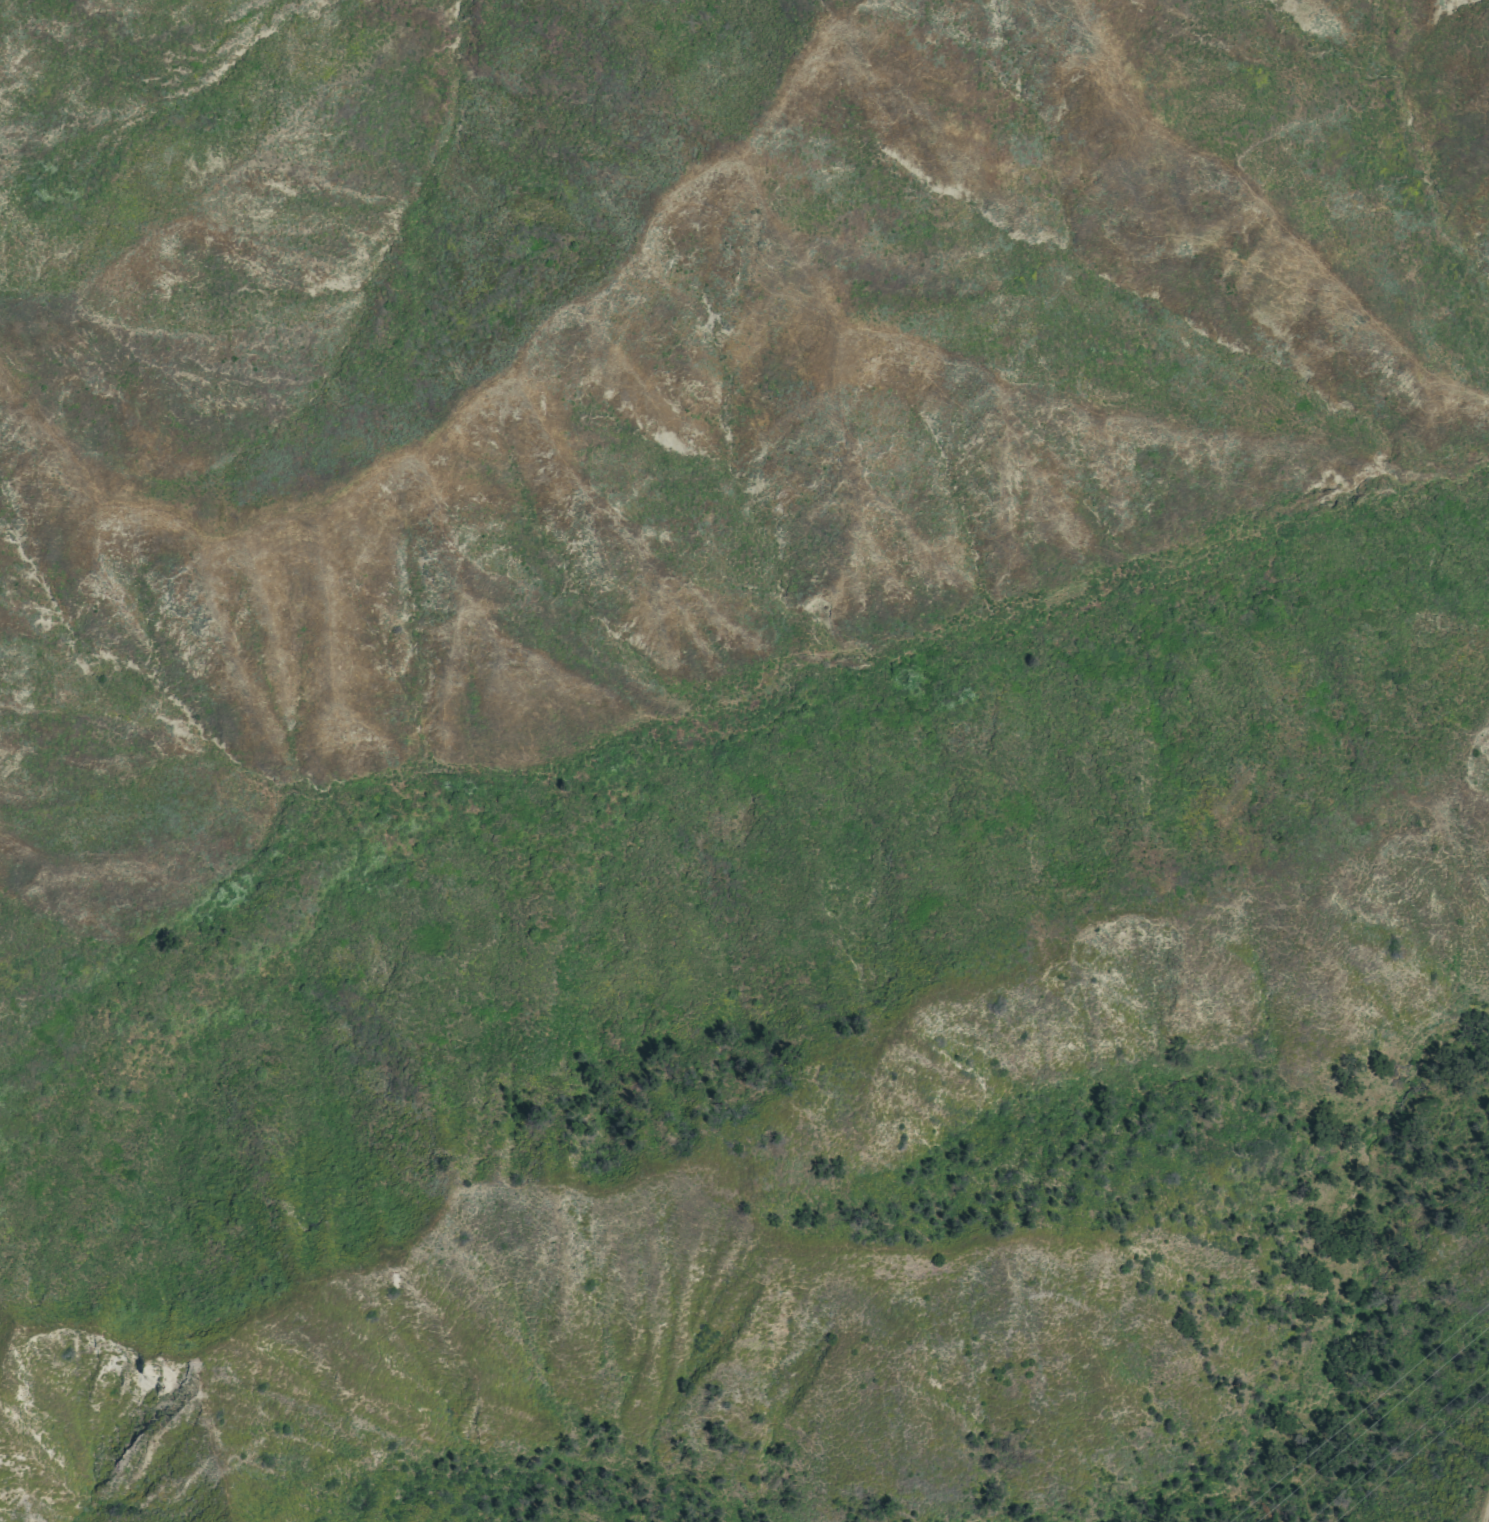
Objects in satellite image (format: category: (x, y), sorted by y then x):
road: (1488, 1519)

